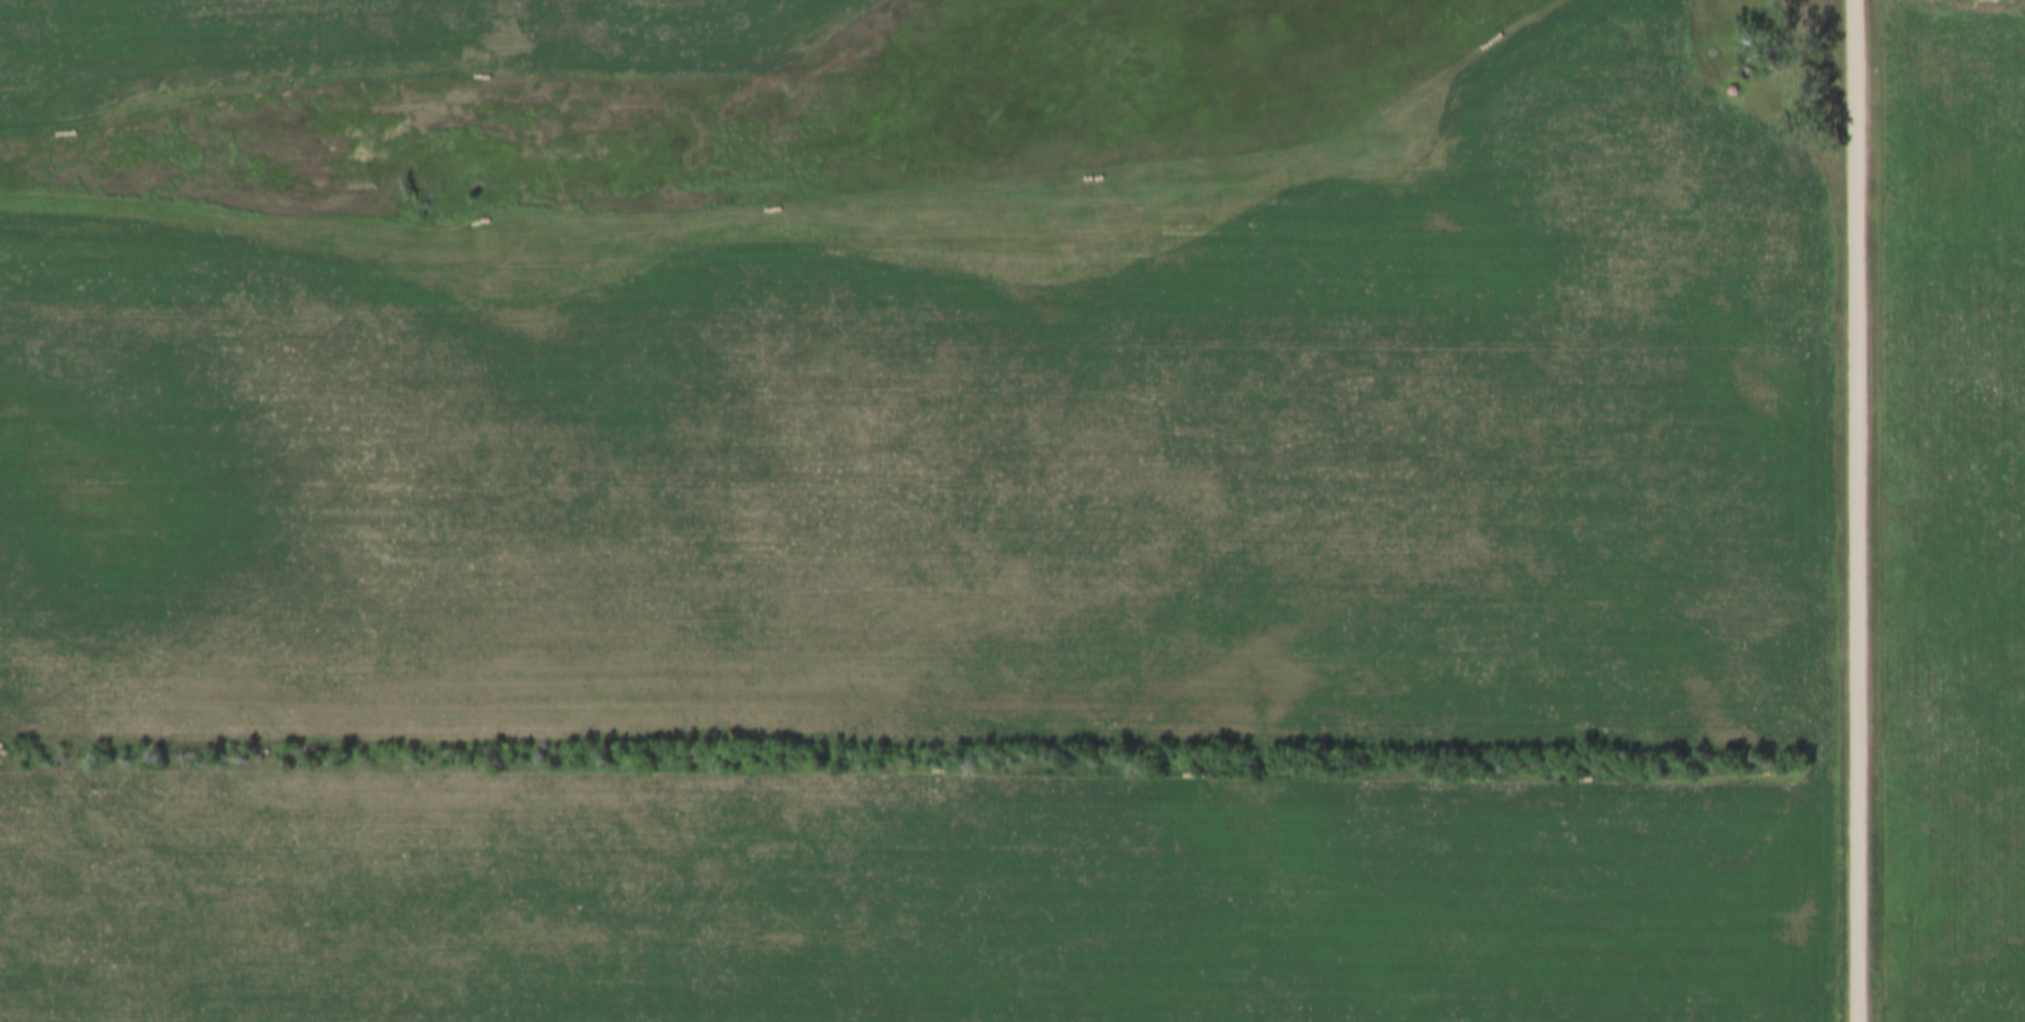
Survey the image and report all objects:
road: (1855, 511)

